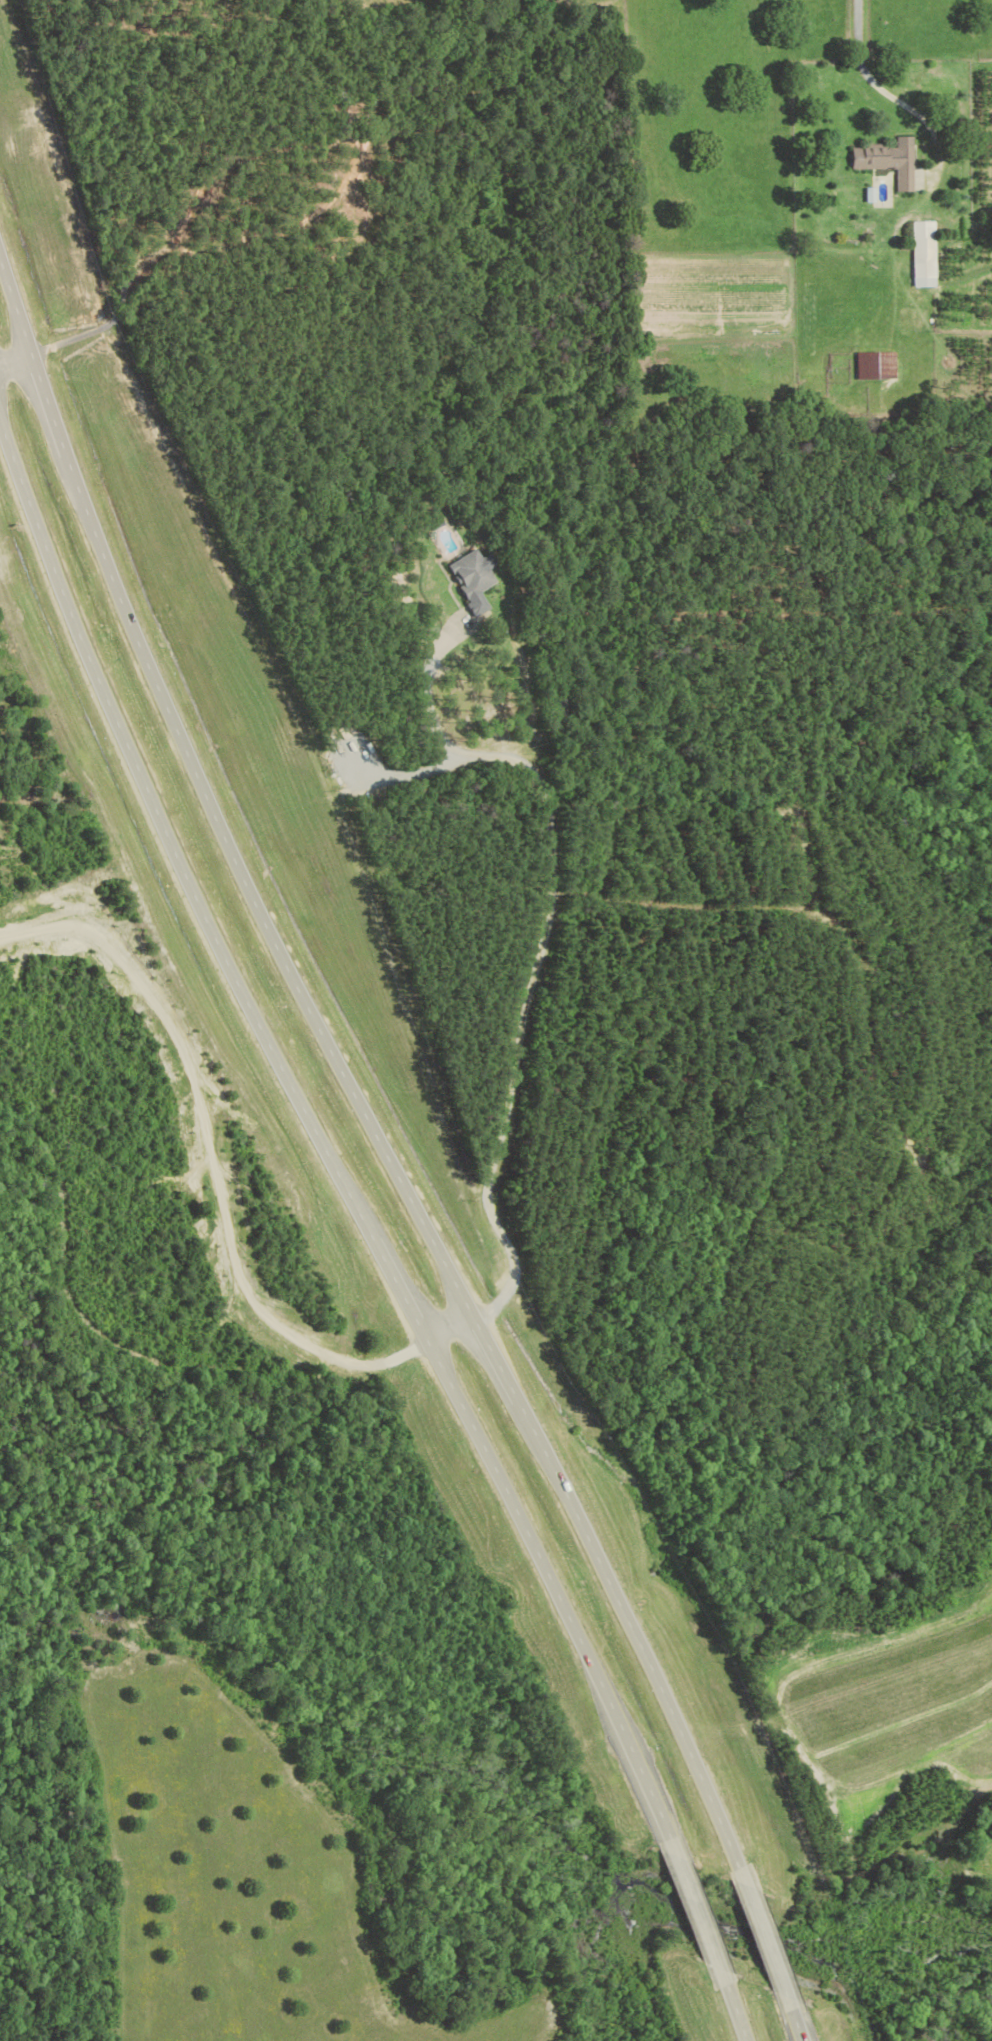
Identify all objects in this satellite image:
road: (877, 78)
building: (891, 158)
building: (925, 254)
building: (877, 366)
building: (471, 578)
road: (45, 929)
road: (535, 955)
road: (889, 971)
road: (371, 1153)
road: (216, 1187)
road: (351, 1233)

